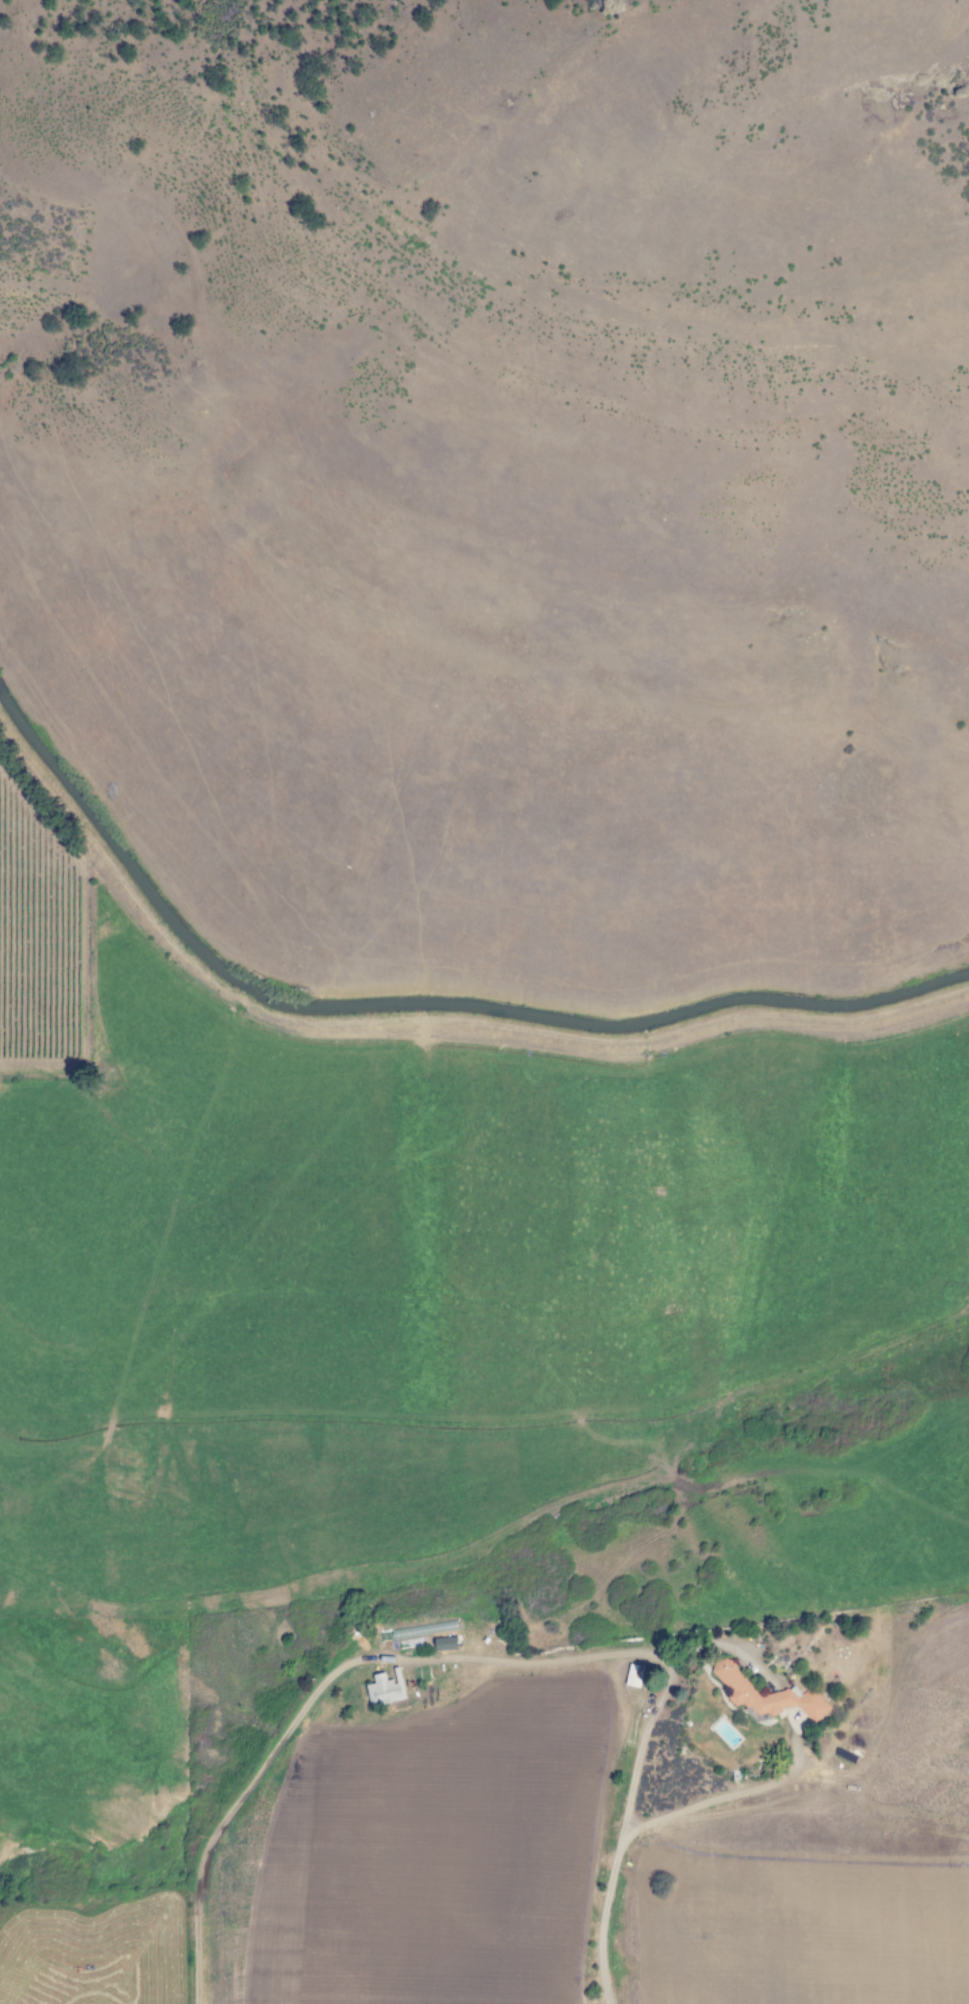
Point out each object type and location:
building: (445, 1644)
road: (488, 1657)
building: (386, 1690)
building: (766, 1695)
building: (796, 1719)
road: (725, 1796)
crop: (599, 1858)

